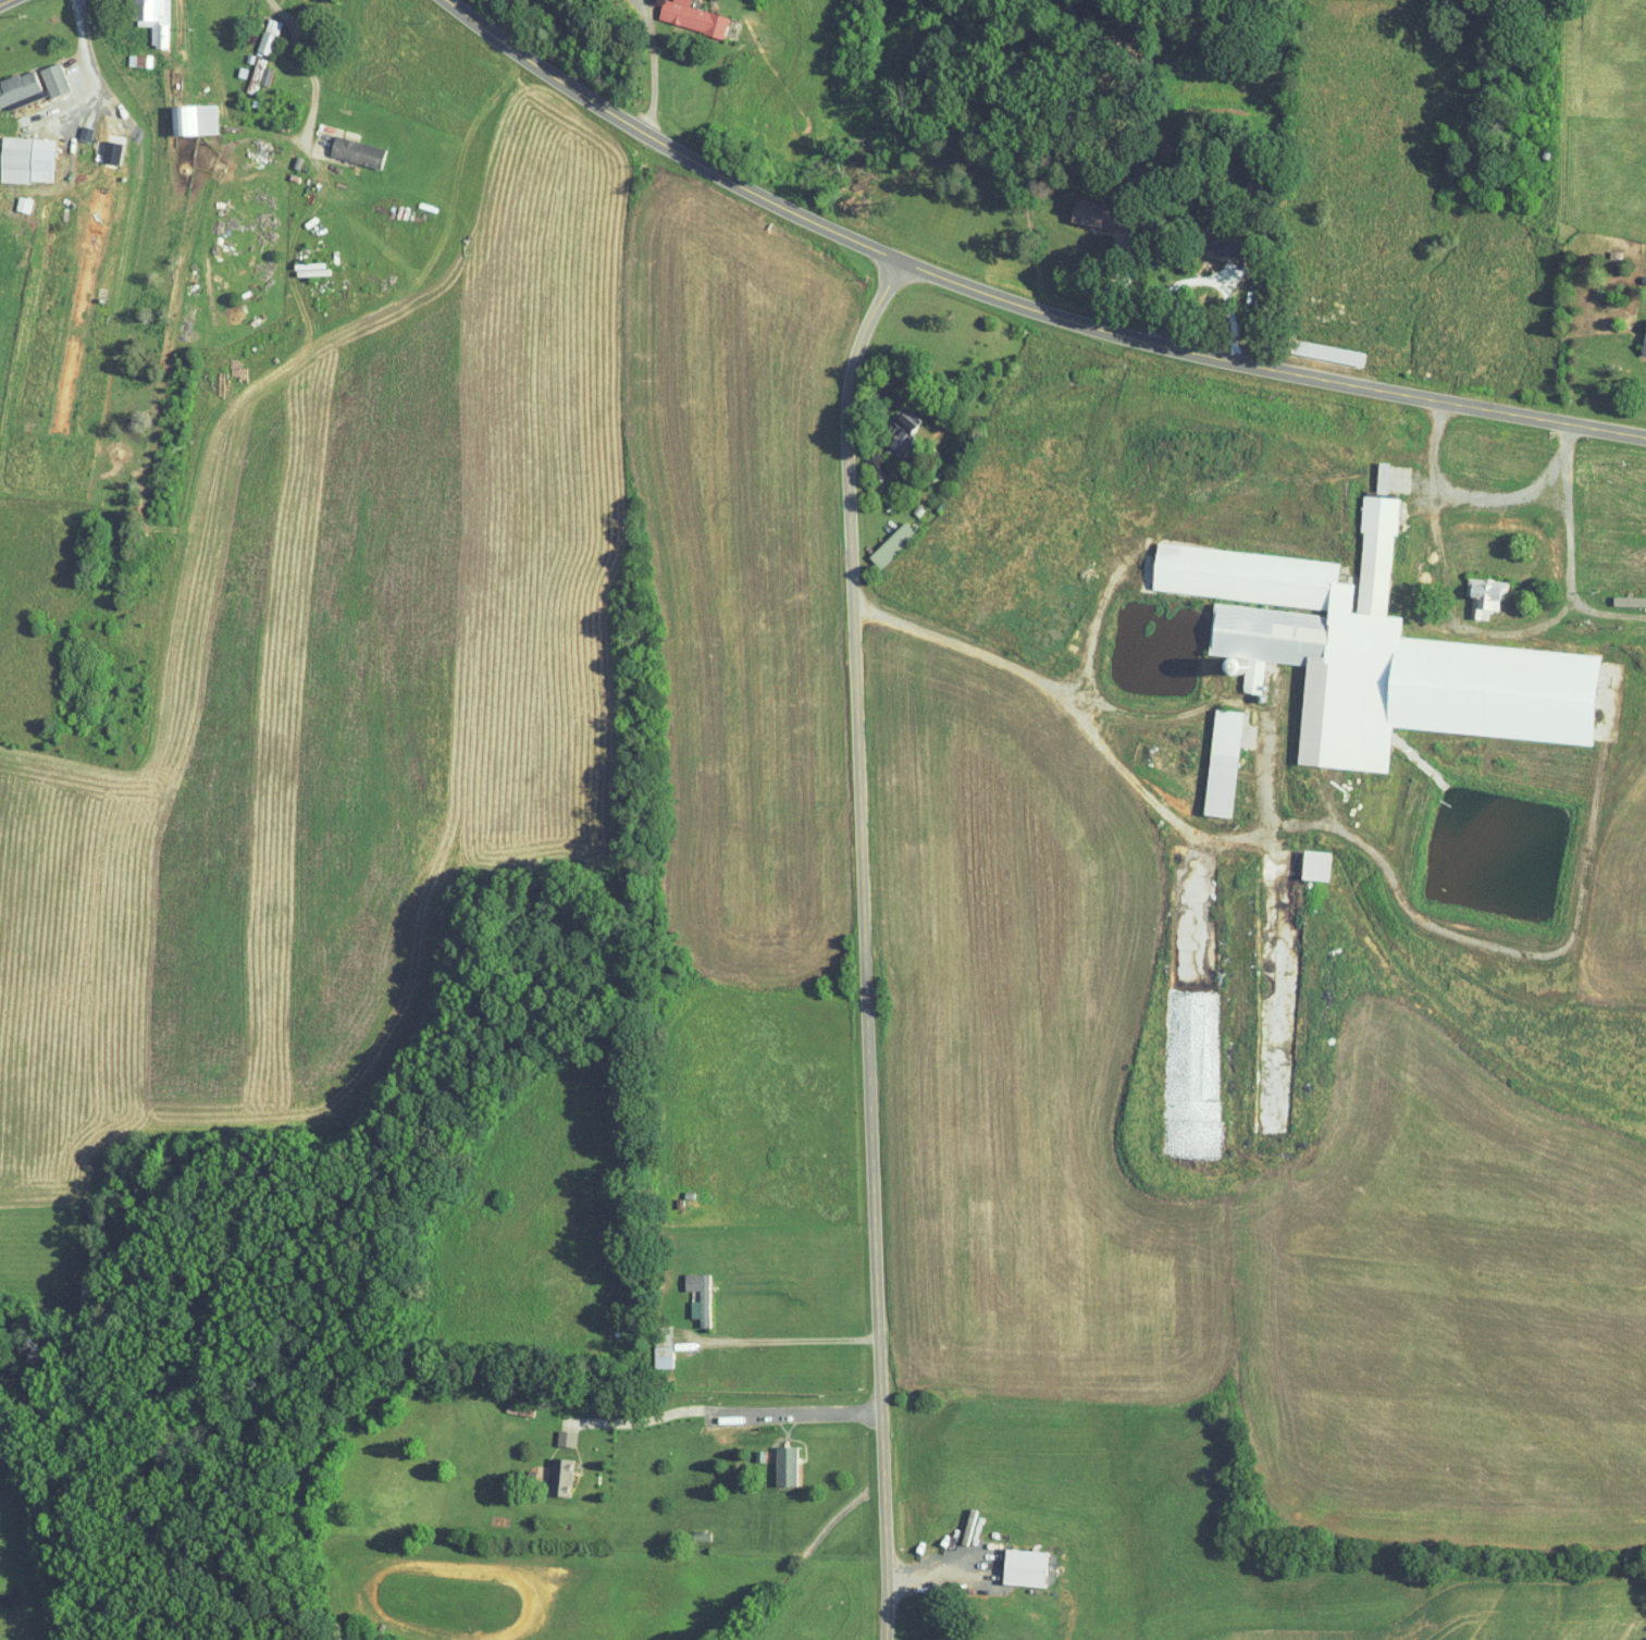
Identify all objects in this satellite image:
road: (4, 1)
building: (693, 17)
building: (154, 19)
road: (294, 22)
building: (269, 37)
road: (653, 69)
building: (55, 79)
building: (20, 87)
building: (25, 100)
building: (195, 120)
building: (358, 152)
building: (28, 160)
building: (23, 204)
building: (1105, 214)
road: (1015, 301)
building: (1644, 345)
building: (1331, 353)
building: (1384, 478)
road: (1496, 498)
building: (893, 545)
road: (1569, 548)
road: (1444, 577)
building: (1485, 594)
building: (1622, 601)
building: (1378, 654)
road: (1056, 692)
building: (1225, 762)
road: (1193, 833)
building: (1317, 863)
road: (863, 945)
building: (700, 1296)
road: (788, 1340)
road: (716, 1409)
building: (567, 1438)
building: (788, 1465)
building: (562, 1476)
building: (1026, 1567)

